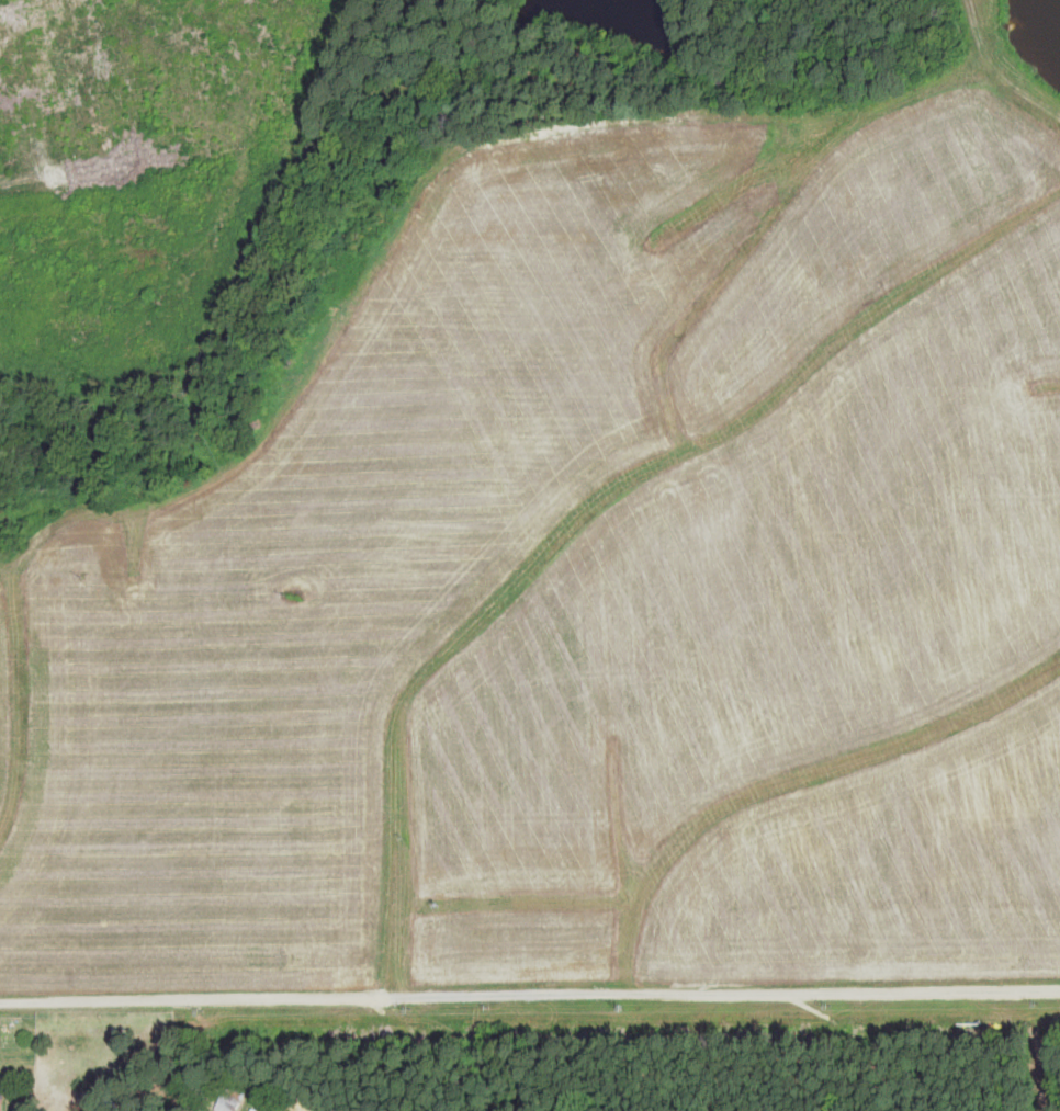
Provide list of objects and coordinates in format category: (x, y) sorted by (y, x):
building: (229, 1100)

